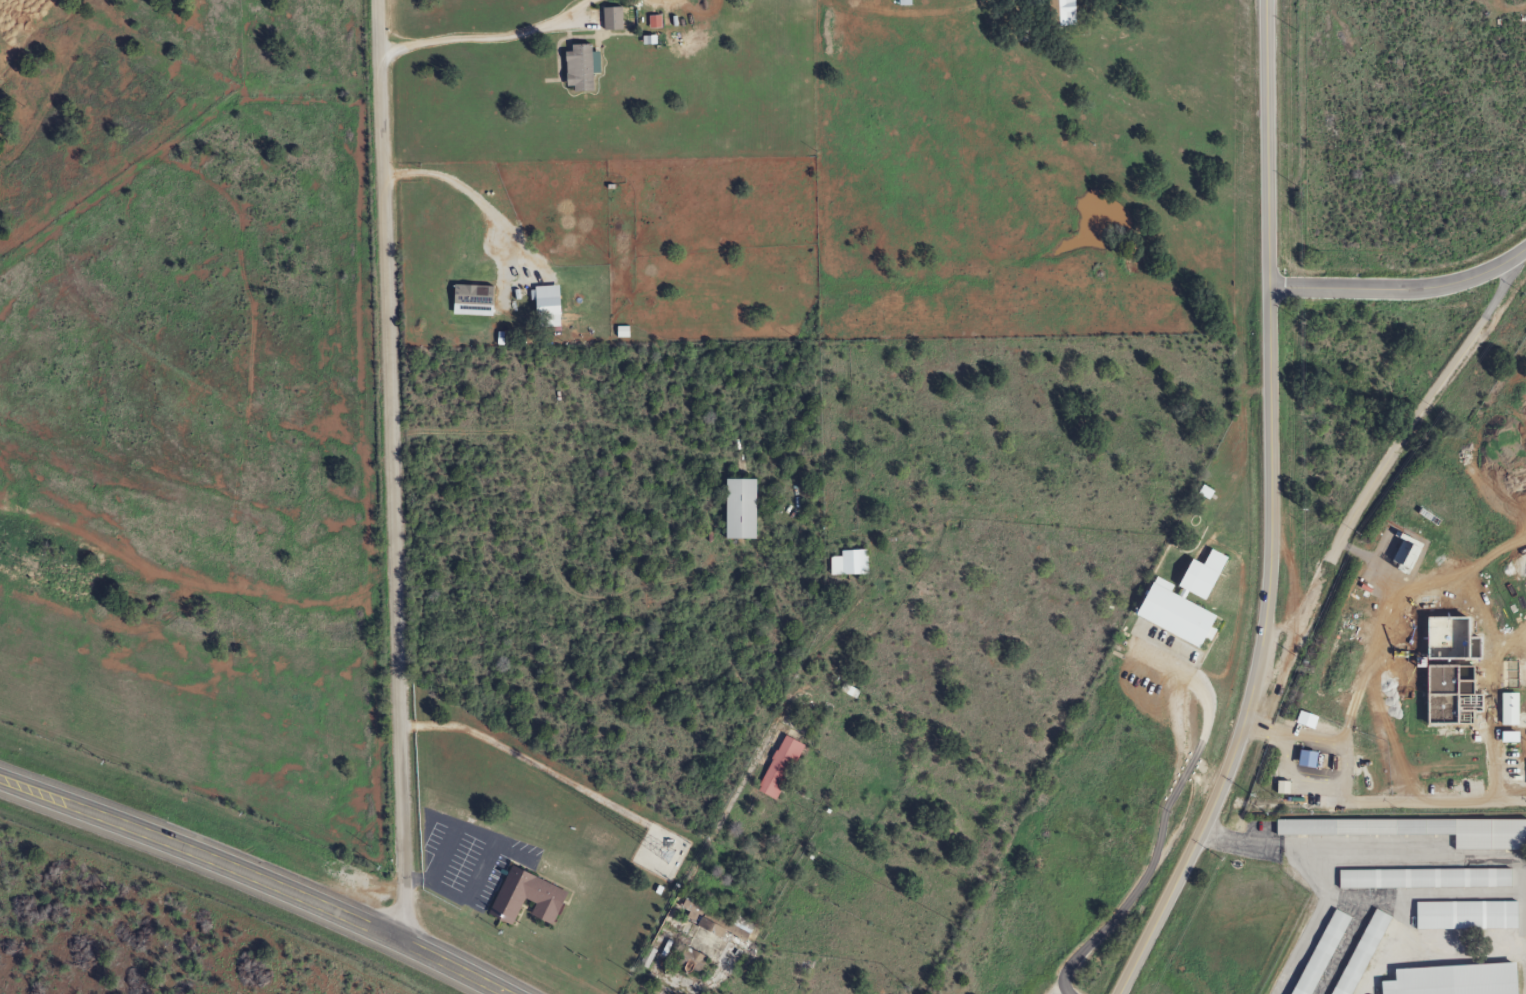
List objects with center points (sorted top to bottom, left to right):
building: (901, 2)
building: (1056, 13)
building: (606, 20)
building: (571, 68)
building: (541, 313)
road: (1432, 396)
road: (392, 471)
building: (737, 508)
road: (1271, 512)
building: (846, 563)
building: (1178, 600)
road: (1416, 626)
wastewater plant: (1420, 640)
building: (1447, 696)
building: (1507, 709)
road: (1493, 735)
road: (1322, 739)
building: (776, 768)
road: (1293, 783)
road: (1387, 804)
road: (1164, 812)
building: (1418, 830)
road: (252, 877)
building: (1421, 878)
building: (520, 898)
building: (1462, 915)
building: (720, 927)
building: (1318, 953)
building: (1358, 953)
building: (686, 961)
building: (1449, 980)

